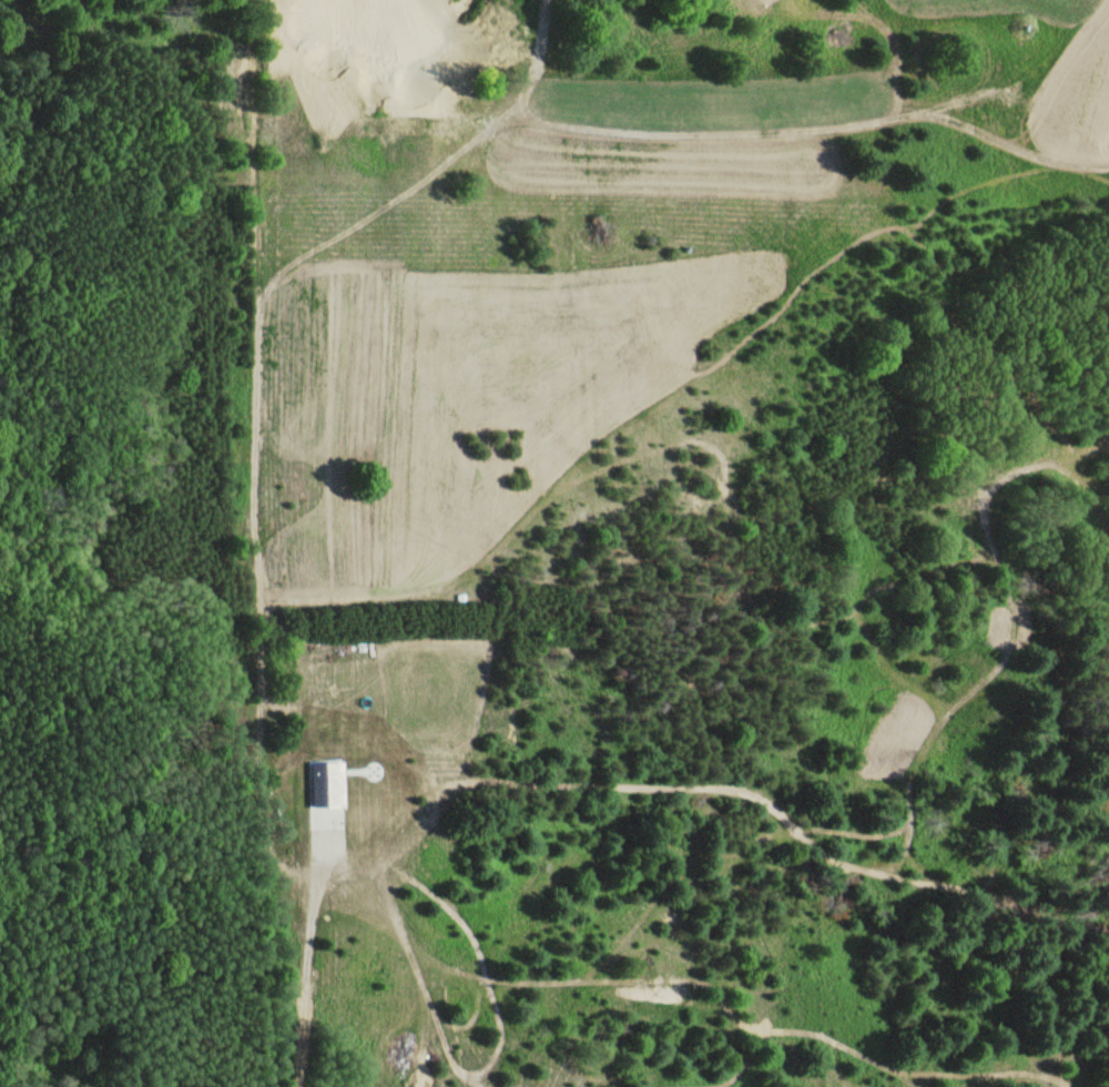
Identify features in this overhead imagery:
quarry: (381, 54)
road: (253, 456)
building: (325, 782)
road: (323, 871)
road: (303, 1004)

